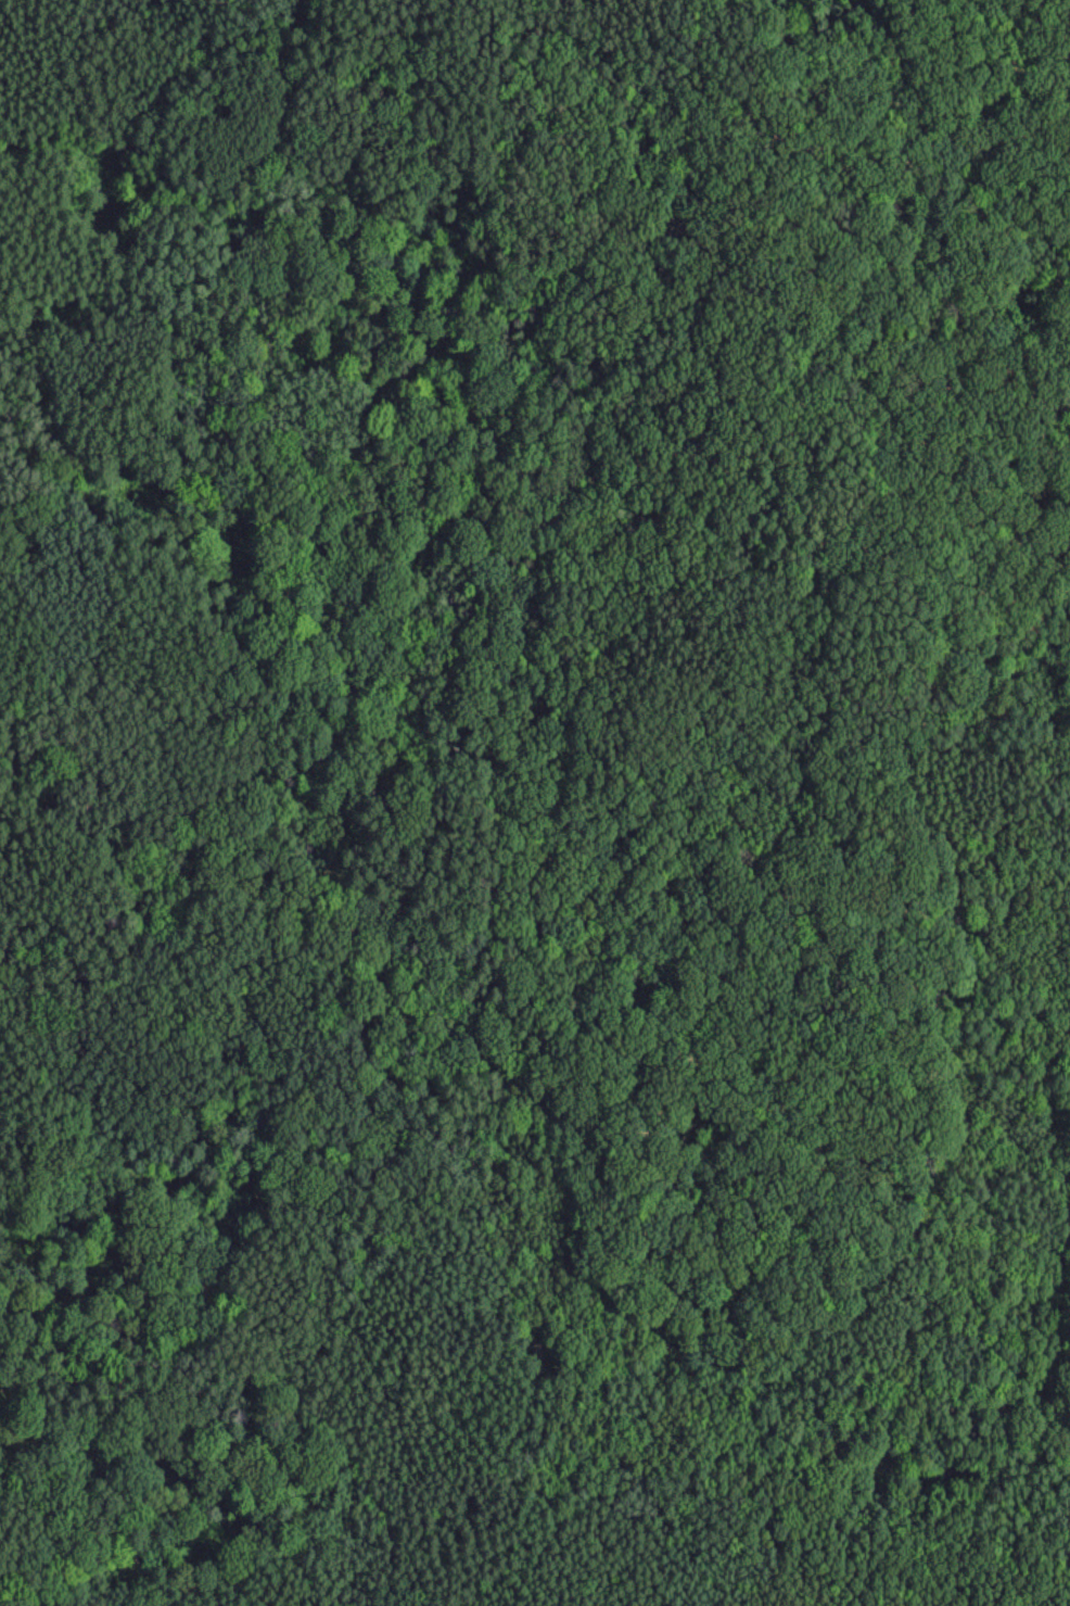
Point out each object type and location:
road: (136, 623)
road: (309, 785)
road: (877, 1400)

